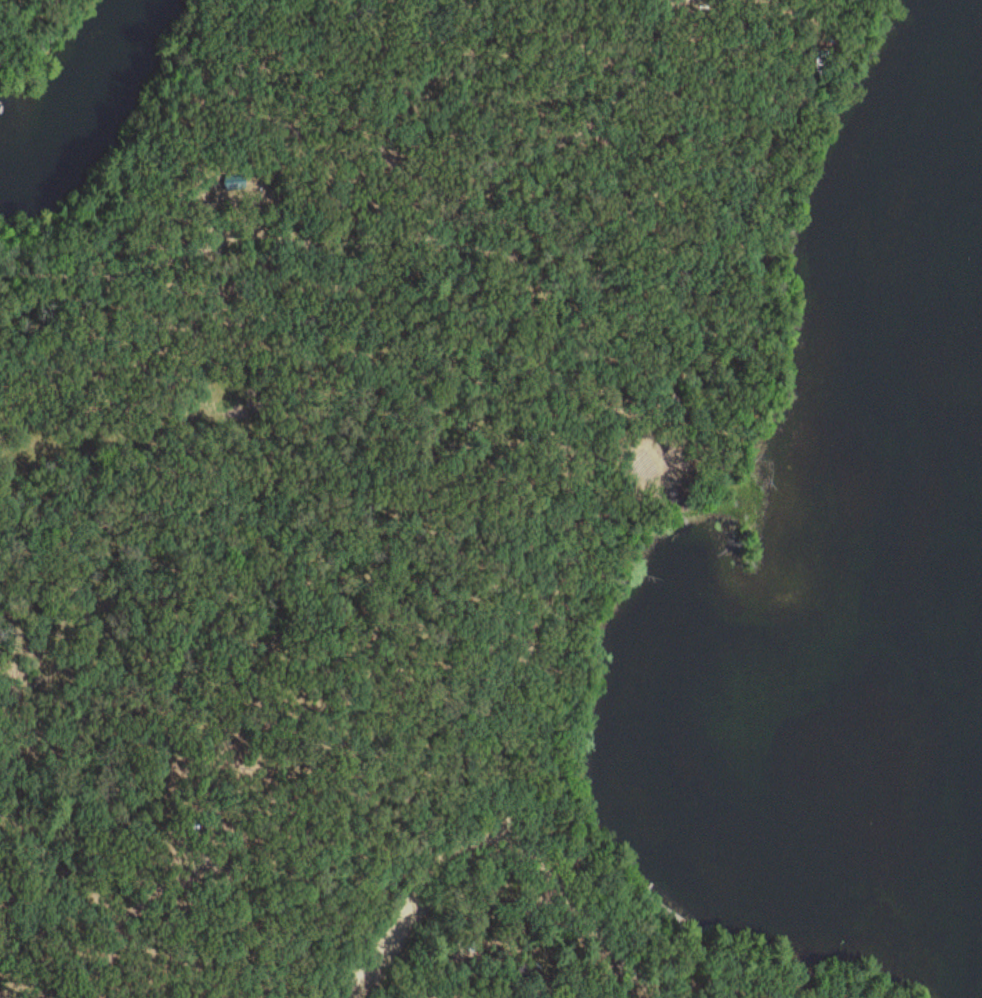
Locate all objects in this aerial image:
road: (19, 25)
building: (815, 54)
road: (560, 133)
building: (232, 172)
road: (537, 277)
road: (81, 336)
road: (522, 511)
road: (504, 821)
parking lot: (393, 937)

